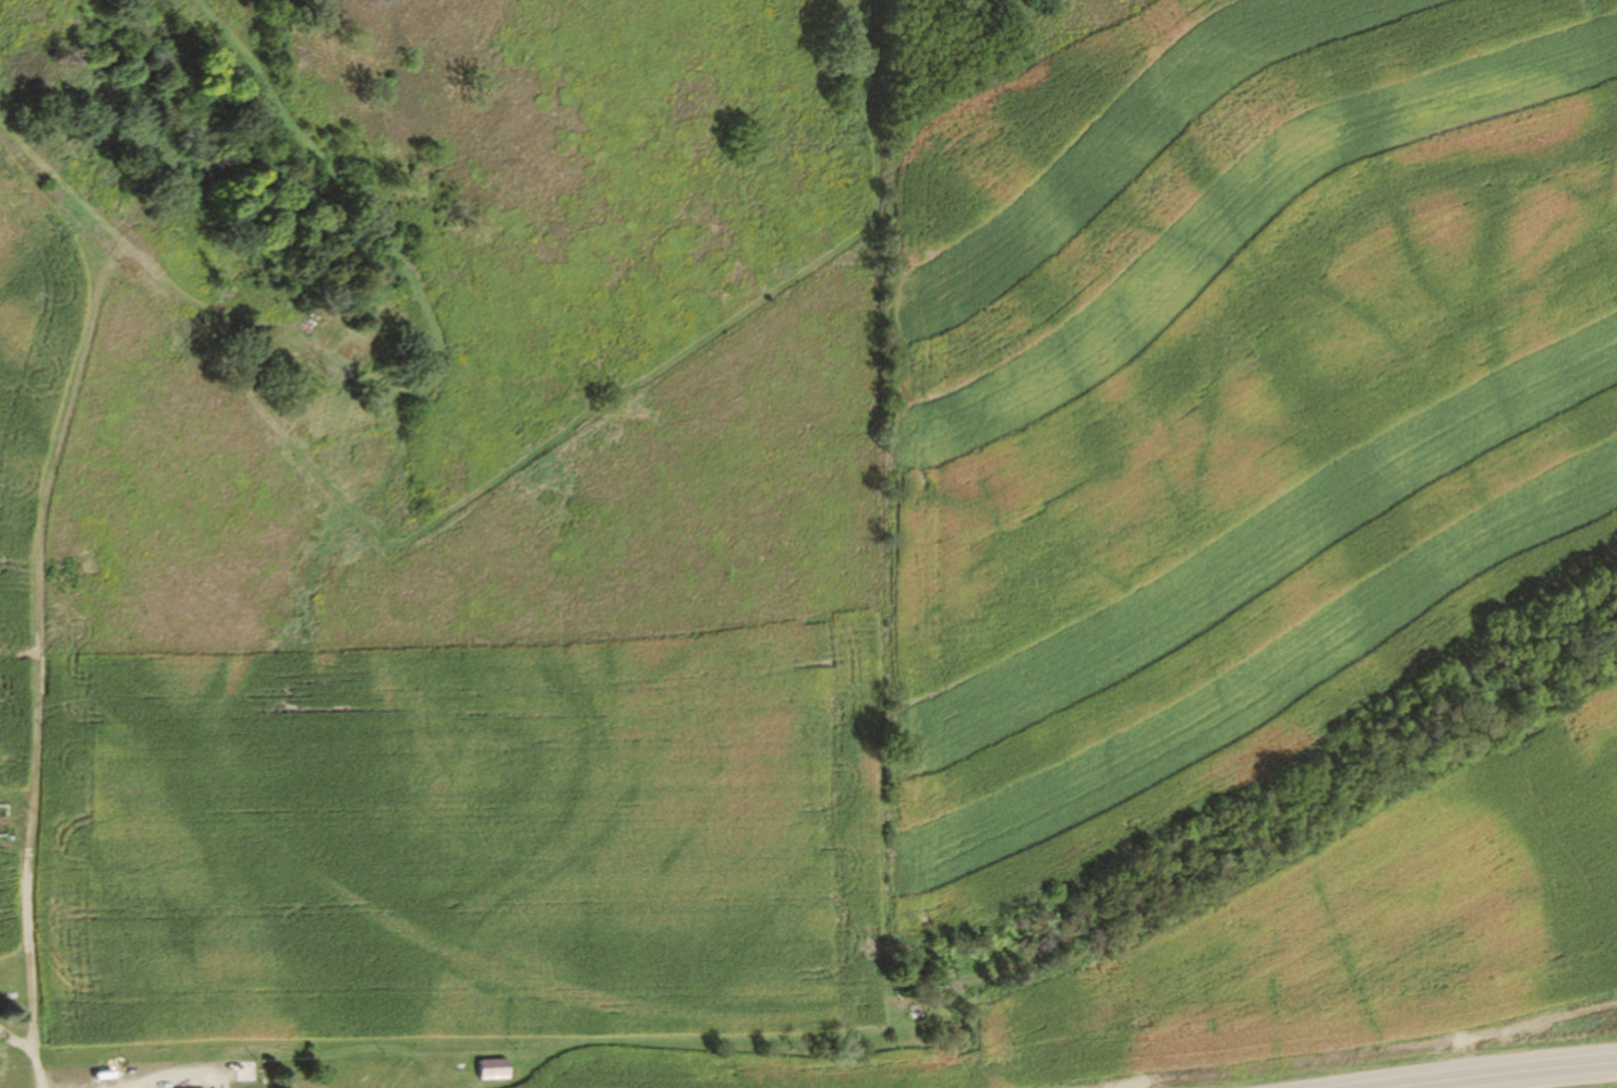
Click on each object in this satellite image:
building: (3, 821)
building: (491, 1069)
road: (1520, 1076)

